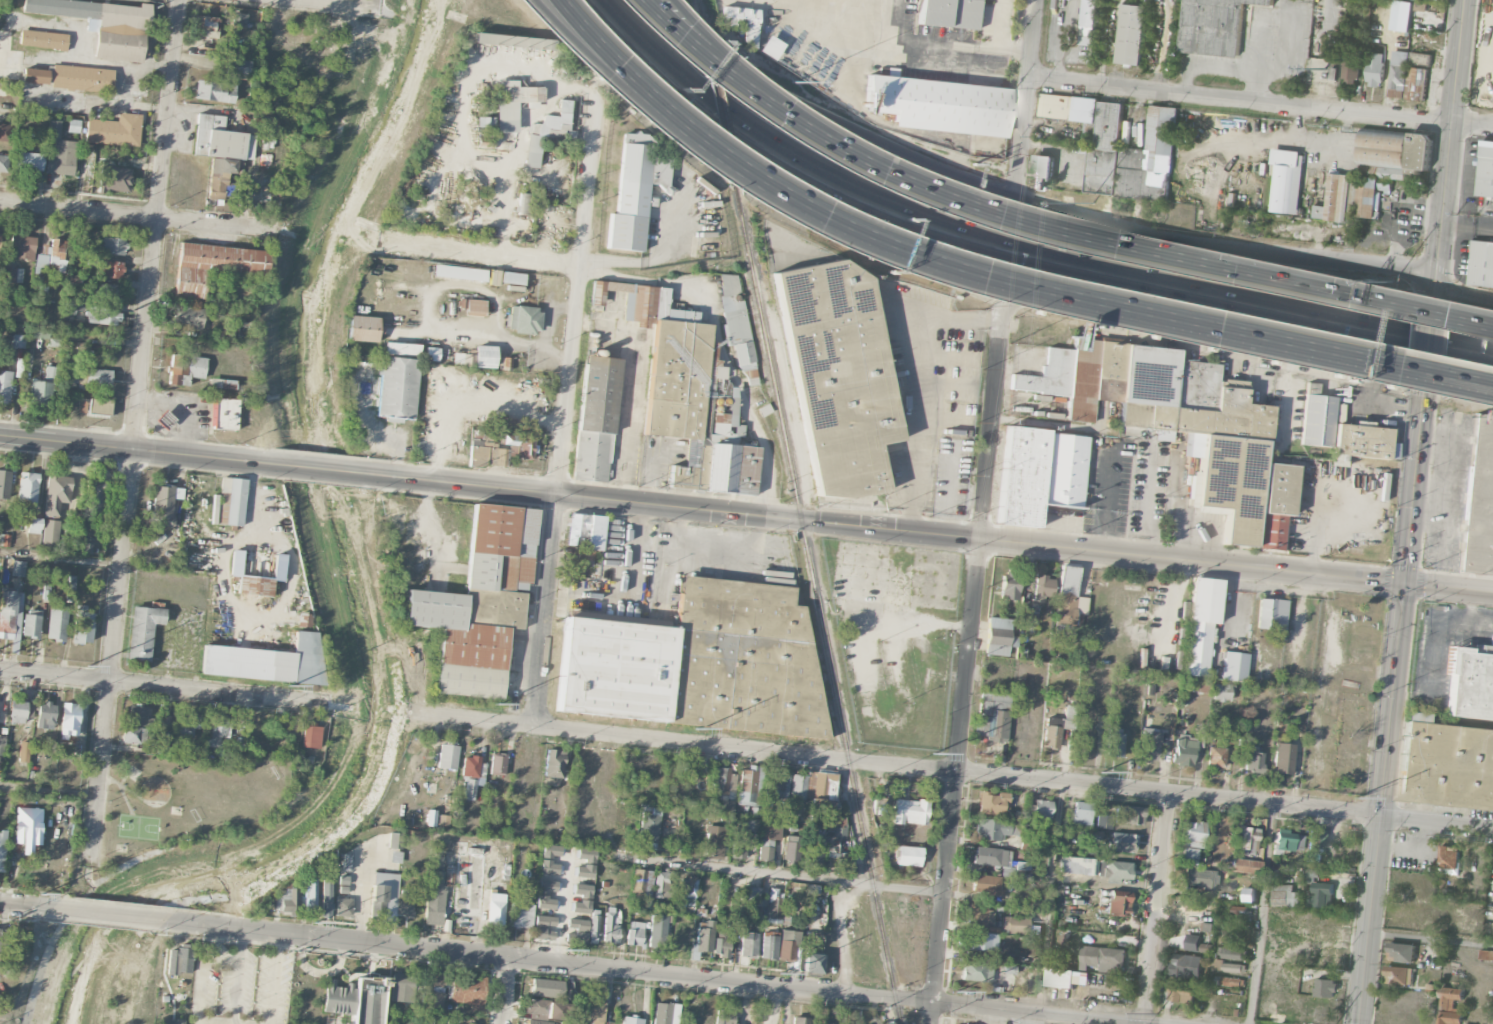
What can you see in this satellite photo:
road: (329, 1)
building: (65, 10)
building: (949, 13)
building: (238, 20)
building: (742, 22)
building: (1089, 22)
railway: (702, 23)
building: (206, 26)
building: (1214, 26)
building: (121, 32)
building: (1132, 34)
building: (484, 39)
building: (43, 40)
road: (891, 41)
road: (996, 41)
building: (525, 43)
road: (1061, 45)
building: (769, 48)
building: (239, 66)
road: (731, 67)
road: (715, 68)
building: (1349, 71)
building: (1396, 75)
building: (35, 76)
building: (82, 78)
road: (630, 81)
road: (1492, 82)
road: (612, 87)
road: (663, 90)
building: (214, 91)
road: (1026, 99)
road: (1260, 102)
building: (512, 103)
building: (937, 105)
building: (1068, 106)
road: (808, 110)
railway: (719, 112)
building: (486, 122)
building: (1110, 125)
building: (114, 130)
building: (6, 133)
building: (269, 133)
building: (548, 133)
building: (221, 139)
road: (1261, 139)
building: (1383, 148)
road: (1447, 150)
building: (59, 151)
building: (1419, 153)
building: (29, 161)
building: (1137, 162)
building: (4, 163)
road: (1068, 163)
building: (1045, 166)
road: (1319, 167)
building: (1485, 171)
building: (219, 176)
building: (114, 179)
building: (1285, 181)
building: (1369, 196)
building: (629, 198)
building: (1336, 199)
road: (135, 216)
road: (1395, 219)
road: (1467, 219)
building: (0, 236)
road: (1018, 243)
building: (112, 246)
road: (1223, 246)
road: (885, 247)
building: (23, 248)
road: (1138, 250)
building: (56, 253)
road: (534, 262)
building: (41, 263)
building: (1481, 263)
building: (214, 266)
building: (112, 270)
road: (1056, 270)
building: (459, 273)
building: (13, 275)
building: (512, 277)
building: (493, 278)
traffic signals: (1434, 284)
building: (514, 288)
building: (108, 292)
road: (1462, 297)
building: (74, 306)
building: (472, 306)
road: (1006, 306)
road: (1092, 306)
building: (408, 307)
building: (102, 316)
building: (190, 318)
building: (523, 319)
road: (73, 324)
building: (362, 329)
building: (736, 329)
road: (544, 333)
road: (1171, 333)
road: (1428, 339)
building: (19, 341)
road: (1427, 347)
building: (401, 349)
building: (432, 354)
building: (476, 357)
building: (505, 364)
building: (185, 369)
road: (1373, 375)
building: (838, 376)
building: (95, 378)
road: (923, 380)
building: (222, 384)
building: (5, 386)
traffic signals: (1423, 386)
building: (397, 387)
building: (41, 388)
building: (83, 406)
building: (99, 407)
building: (696, 411)
building: (225, 414)
building: (1169, 416)
road: (567, 417)
building: (1317, 418)
building: (596, 419)
building: (164, 420)
road: (1067, 427)
road: (134, 433)
building: (1362, 443)
building: (520, 446)
road: (136, 449)
building: (477, 456)
road: (321, 470)
building: (1040, 473)
building: (5, 484)
building: (27, 487)
building: (57, 492)
building: (96, 494)
building: (231, 501)
building: (1479, 501)
building: (163, 505)
building: (1276, 505)
road: (1155, 516)
building: (34, 526)
building: (585, 530)
road: (931, 533)
building: (50, 535)
building: (4, 540)
road: (60, 558)
building: (18, 569)
building: (256, 576)
traffic signals: (1403, 583)
building: (1009, 587)
building: (1042, 587)
building: (1068, 597)
railway: (816, 600)
building: (479, 604)
building: (10, 616)
building: (1028, 616)
building: (1272, 616)
building: (302, 620)
building: (32, 623)
building: (56, 623)
building: (82, 625)
building: (1200, 625)
building: (143, 632)
building: (997, 636)
building: (267, 662)
building: (699, 663)
power tower: (88, 666)
building: (1234, 666)
road: (965, 672)
building: (1159, 678)
building: (1470, 682)
road: (159, 685)
building: (1200, 685)
power tower: (288, 686)
building: (1150, 689)
building: (1222, 692)
road: (1390, 701)
power tower: (494, 705)
building: (20, 712)
building: (45, 716)
building: (136, 716)
building: (992, 716)
building: (1354, 718)
building: (69, 720)
building: (1147, 720)
building: (163, 721)
building: (189, 725)
building: (1057, 727)
power tower: (695, 729)
building: (218, 732)
building: (1228, 732)
building: (134, 736)
building: (311, 736)
building: (1114, 742)
building: (1211, 742)
building: (2, 745)
building: (1148, 745)
building: (1183, 751)
building: (24, 752)
power tower: (933, 754)
building: (447, 755)
building: (1215, 757)
building: (1282, 759)
building: (1253, 760)
building: (554, 763)
building: (497, 764)
building: (1445, 764)
building: (1345, 768)
road: (952, 770)
power tower: (1102, 773)
building: (472, 775)
building: (723, 783)
building: (749, 785)
building: (776, 786)
building: (797, 787)
road: (48, 789)
building: (821, 791)
power tower: (1354, 798)
park: (178, 799)
building: (992, 803)
building: (879, 810)
building: (1041, 810)
building: (754, 812)
building: (910, 812)
building: (1081, 814)
building: (1130, 815)
building: (28, 819)
building: (444, 820)
building: (1103, 822)
building: (648, 824)
building: (751, 825)
building: (817, 825)
building: (991, 829)
building: (1193, 834)
building: (1249, 839)
building: (395, 840)
building: (714, 840)
building: (1284, 840)
building: (767, 842)
building: (1122, 842)
building: (1315, 843)
building: (739, 846)
building: (832, 847)
building: (790, 849)
building: (814, 850)
building: (2, 851)
building: (1190, 853)
building: (907, 856)
building: (989, 856)
building: (1448, 857)
building: (549, 859)
building: (845, 860)
building: (585, 863)
building: (1192, 864)
building: (1075, 866)
building: (1245, 866)
building: (1114, 871)
road: (779, 875)
building: (1311, 876)
building: (1200, 878)
building: (642, 882)
building: (343, 883)
building: (986, 884)
building: (663, 885)
road: (362, 889)
building: (687, 890)
building: (310, 894)
building: (1250, 894)
building: (1323, 894)
building: (546, 895)
building: (326, 896)
building: (1285, 896)
power tower: (64, 897)
building: (384, 897)
building: (434, 898)
road: (1050, 898)
building: (582, 899)
building: (1448, 899)
building: (748, 900)
building: (1311, 900)
building: (285, 901)
building: (776, 901)
building: (405, 905)
building: (1118, 905)
road: (26, 906)
building: (343, 907)
building: (998, 908)
road: (1157, 908)
building: (496, 909)
building: (1238, 909)
road: (1262, 913)
building: (521, 915)
building: (978, 915)
road: (116, 916)
building: (1403, 916)
power tower: (315, 923)
building: (593, 926)
building: (611, 926)
building: (1020, 926)
building: (543, 927)
building: (1207, 927)
building: (0, 929)
building: (576, 930)
building: (634, 933)
building: (658, 933)
building: (704, 937)
road: (842, 937)
road: (1430, 940)
building: (981, 941)
building: (1196, 943)
building: (721, 944)
building: (749, 944)
building: (769, 947)
building: (787, 947)
power tower: (565, 950)
building: (1400, 952)
building: (1233, 954)
building: (1485, 954)
building: (1008, 956)
building: (1103, 958)
building: (1, 959)
building: (180, 960)
road: (206, 962)
building: (813, 963)
building: (1186, 966)
building: (1226, 966)
building: (1008, 969)
building: (1293, 970)
power tower: (776, 972)
road: (658, 974)
building: (980, 974)
building: (1399, 975)
building: (1066, 977)
road: (274, 979)
building: (1231, 981)
building: (546, 986)
building: (1325, 987)
building: (1431, 987)
building: (403, 988)
road: (506, 991)
building: (468, 992)
power tower: (956, 992)
building: (1180, 992)
building: (433, 994)
building: (337, 998)
building: (369, 1000)
building: (1450, 1005)
building: (535, 1008)
building: (596, 1009)
building: (558, 1011)
building: (665, 1013)
power tower: (1157, 1013)
building: (724, 1017)
building: (577, 1019)
building: (801, 1020)
building: (632, 1021)
building: (171, 1022)
building: (537, 1022)
road: (3, 1023)
building: (826, 1023)

